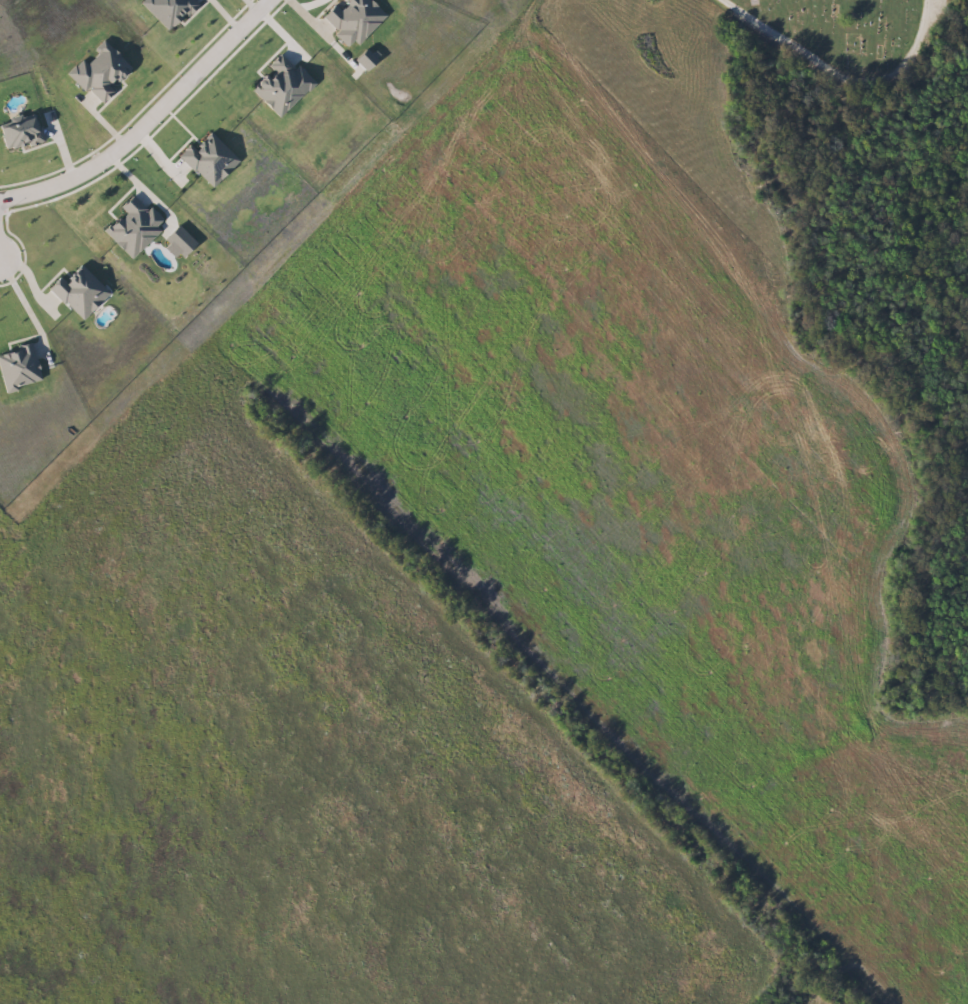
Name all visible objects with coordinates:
park: (837, 35)
road: (150, 123)
road: (21, 301)

